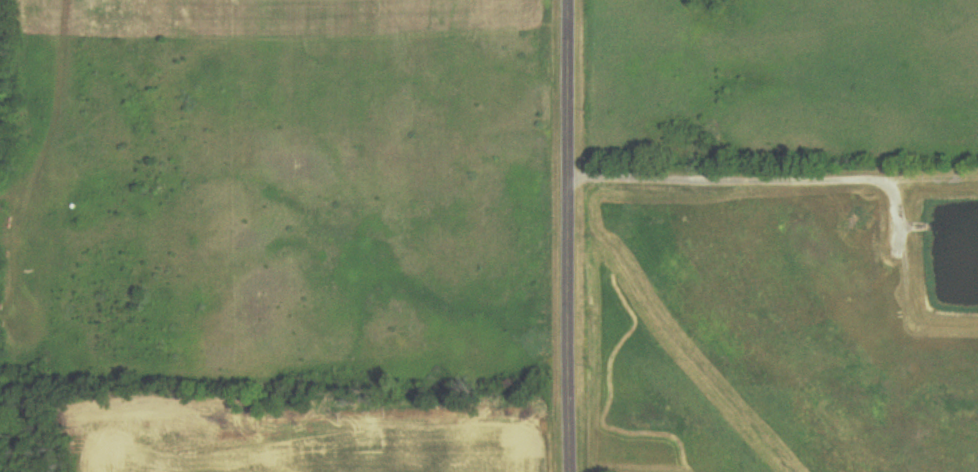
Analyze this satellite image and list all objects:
road: (563, 236)
crop: (306, 438)

